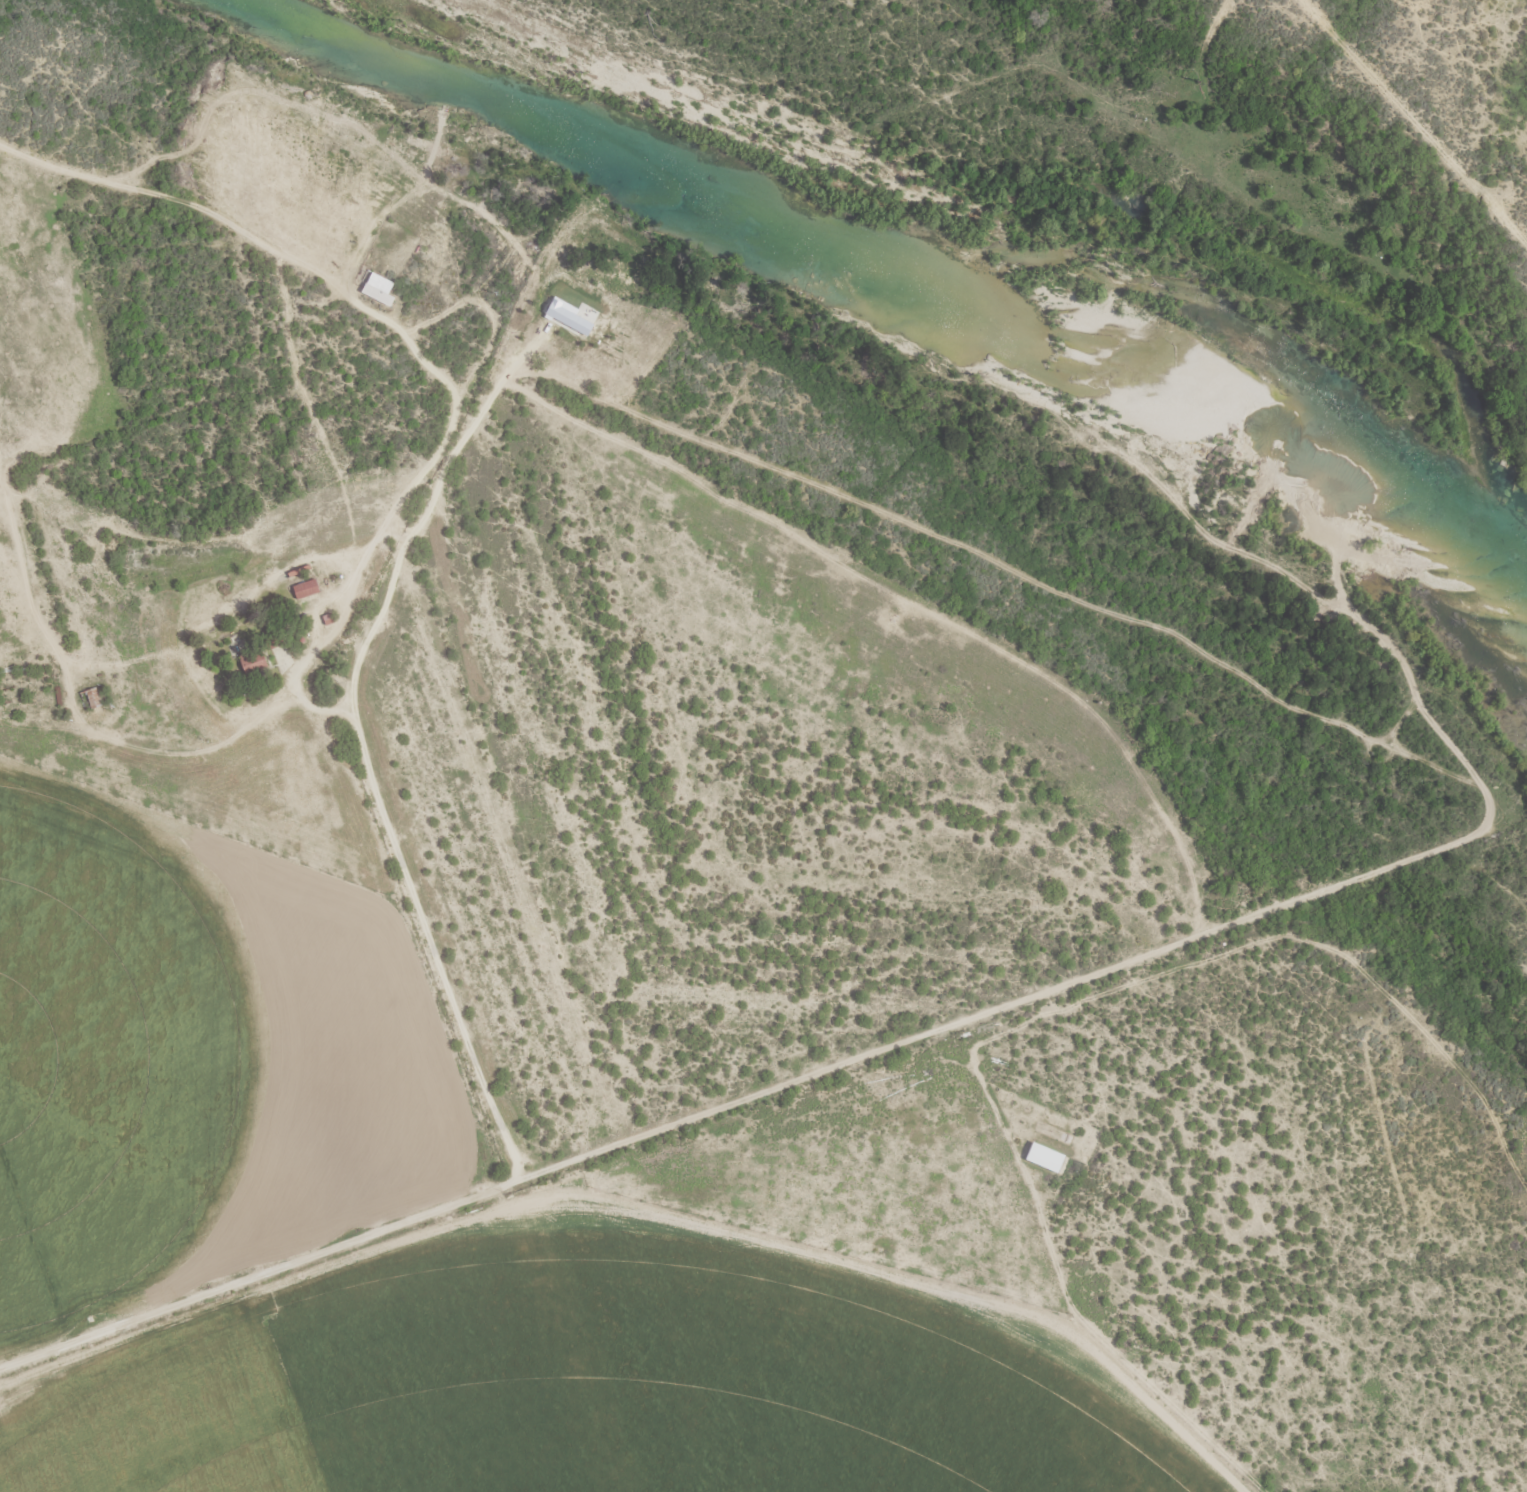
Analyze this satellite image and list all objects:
river: (943, 244)
building: (374, 289)
building: (302, 589)

